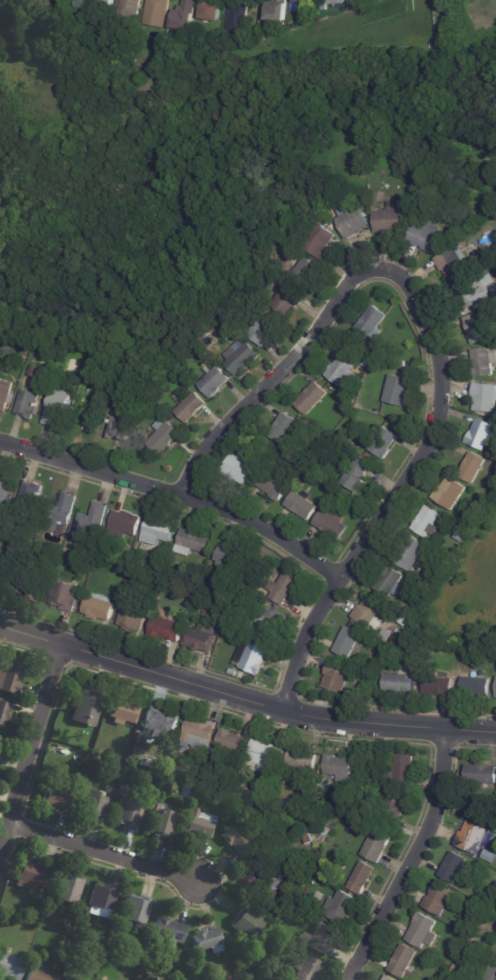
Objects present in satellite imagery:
building: (305, 2)
building: (336, 2)
building: (33, 3)
building: (104, 5)
building: (325, 8)
building: (129, 11)
building: (210, 12)
building: (276, 12)
building: (156, 13)
building: (183, 17)
building: (237, 18)
building: (186, 46)
park: (170, 139)
building: (389, 221)
building: (350, 222)
building: (423, 238)
building: (318, 244)
building: (451, 263)
building: (305, 272)
building: (471, 293)
building: (284, 303)
building: (372, 324)
building: (475, 328)
building: (261, 332)
building: (223, 337)
building: (4, 343)
road: (435, 343)
building: (208, 349)
building: (365, 349)
building: (239, 359)
building: (366, 361)
building: (483, 362)
building: (401, 364)
building: (343, 371)
building: (32, 373)
building: (213, 384)
building: (397, 390)
building: (100, 394)
building: (5, 395)
building: (484, 397)
building: (311, 398)
building: (26, 405)
building: (343, 407)
building: (57, 408)
building: (191, 410)
building: (36, 413)
building: (146, 414)
building: (117, 416)
building: (93, 417)
building: (119, 429)
building: (283, 429)
building: (479, 435)
building: (326, 436)
building: (163, 438)
building: (383, 443)
building: (269, 450)
building: (279, 455)
building: (238, 468)
building: (472, 468)
building: (356, 475)
building: (313, 478)
building: (275, 484)
building: (4, 490)
building: (448, 493)
road: (176, 494)
building: (29, 500)
building: (488, 504)
building: (301, 506)
building: (59, 516)
building: (426, 522)
building: (125, 524)
building: (331, 524)
building: (90, 525)
building: (156, 535)
building: (460, 537)
building: (194, 543)
building: (409, 554)
building: (229, 565)
building: (85, 568)
building: (4, 580)
building: (389, 582)
building: (30, 584)
building: (249, 585)
building: (283, 589)
building: (65, 597)
building: (198, 600)
building: (98, 611)
building: (409, 612)
building: (231, 614)
building: (370, 614)
building: (131, 619)
building: (406, 620)
building: (269, 624)
building: (165, 631)
building: (199, 642)
building: (347, 643)
building: (386, 651)
building: (476, 652)
building: (255, 659)
building: (232, 674)
building: (10, 677)
building: (336, 677)
building: (365, 679)
building: (399, 684)
building: (438, 687)
building: (475, 687)
building: (495, 692)
road: (244, 698)
building: (87, 708)
building: (4, 712)
building: (124, 713)
building: (161, 723)
building: (196, 735)
building: (0, 739)
building: (230, 742)
building: (0, 747)
road: (31, 747)
building: (263, 756)
building: (301, 759)
building: (145, 762)
building: (154, 764)
building: (339, 769)
building: (366, 769)
building: (402, 773)
building: (481, 775)
building: (243, 777)
building: (194, 779)
building: (377, 782)
building: (228, 785)
building: (243, 790)
building: (123, 792)
building: (218, 795)
building: (58, 797)
building: (334, 802)
building: (493, 802)
building: (244, 804)
building: (94, 805)
building: (329, 806)
building: (392, 813)
building: (128, 814)
building: (163, 822)
building: (483, 822)
building: (200, 824)
building: (495, 831)
building: (471, 839)
building: (238, 840)
building: (307, 840)
building: (376, 847)
road: (103, 851)
building: (490, 857)
road: (412, 859)
building: (452, 868)
building: (32, 876)
building: (315, 876)
building: (264, 879)
building: (361, 879)
building: (312, 881)
building: (69, 888)
building: (438, 900)
building: (102, 902)
building: (339, 909)
building: (137, 911)
building: (17, 913)
building: (6, 914)
building: (248, 924)
building: (420, 932)
building: (168, 933)
building: (101, 934)
building: (88, 939)
building: (99, 940)
building: (321, 940)
building: (208, 941)
building: (475, 942)
building: (136, 951)
building: (401, 962)
building: (179, 963)
building: (10, 967)
building: (272, 967)
building: (309, 969)
building: (40, 974)
building: (492, 974)
building: (68, 978)
building: (228, 978)
building: (387, 979)

